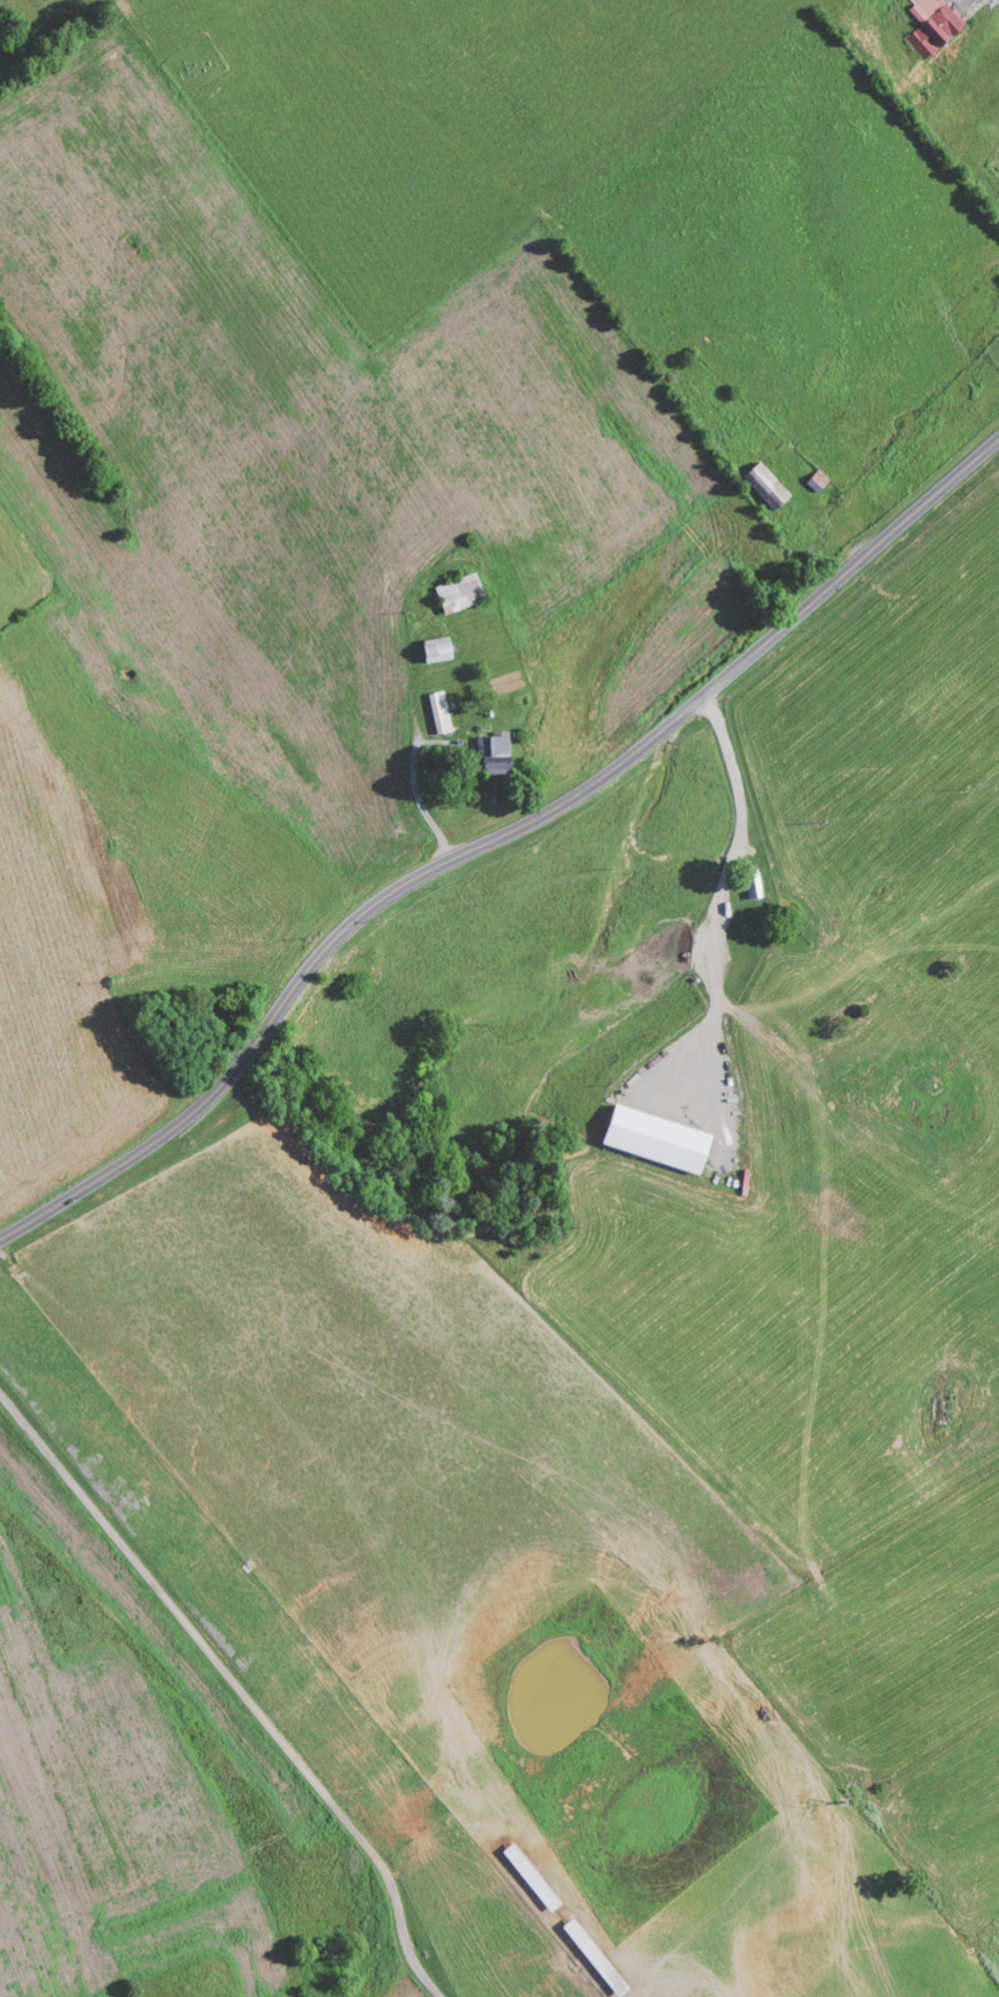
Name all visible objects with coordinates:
building: (936, 26)
building: (768, 487)
building: (464, 593)
building: (443, 713)
building: (499, 754)
road: (495, 841)
building: (660, 1138)
road: (238, 1685)

